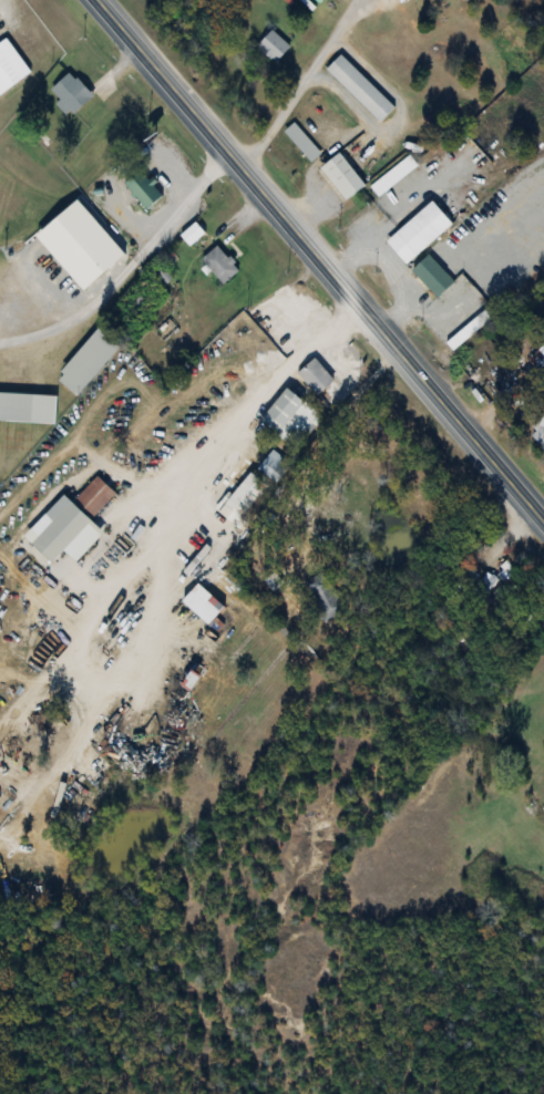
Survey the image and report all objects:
building: (273, 47)
building: (10, 68)
road: (305, 85)
building: (360, 90)
building: (71, 95)
building: (302, 144)
building: (343, 176)
building: (393, 177)
building: (143, 192)
building: (418, 234)
building: (192, 236)
building: (95, 237)
road: (319, 258)
building: (220, 266)
road: (129, 270)
building: (431, 277)
building: (147, 319)
building: (270, 322)
building: (464, 334)
building: (86, 363)
building: (316, 378)
building: (28, 409)
building: (289, 419)
building: (538, 433)
building: (273, 465)
building: (242, 499)
building: (97, 502)
building: (61, 534)
road: (162, 574)
building: (483, 585)
building: (325, 598)
building: (201, 606)

